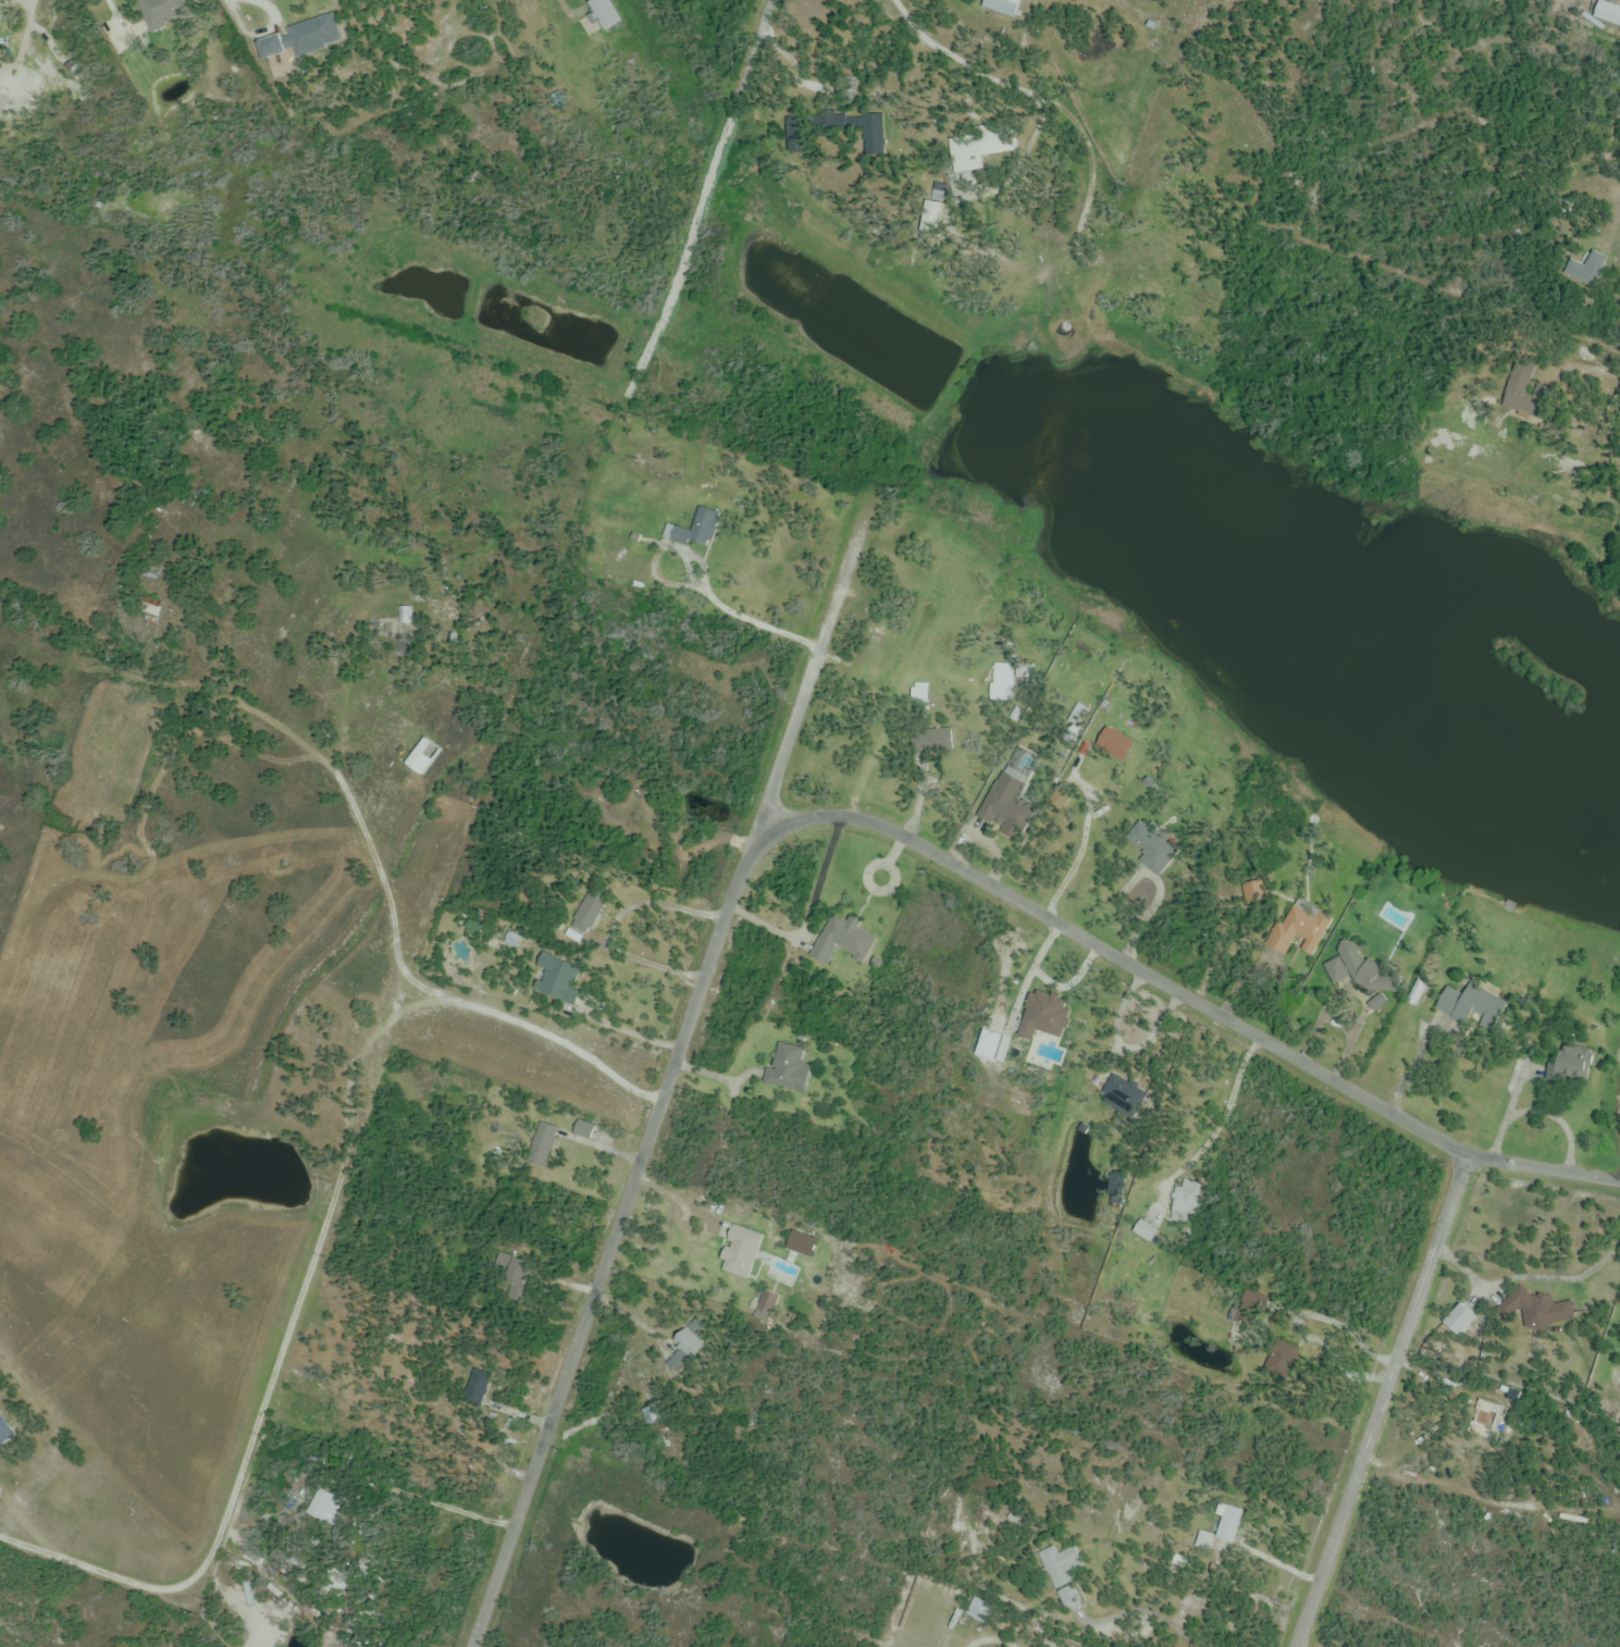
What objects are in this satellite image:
road: (250, 3)
building: (1002, 7)
building: (161, 13)
building: (603, 13)
road: (772, 21)
building: (298, 40)
building: (994, 141)
building: (1580, 189)
building: (1586, 270)
building: (1520, 384)
building: (698, 531)
building: (150, 573)
building: (442, 612)
building: (931, 742)
building: (1113, 746)
building: (419, 757)
building: (1006, 800)
road: (1079, 847)
building: (1152, 849)
road: (613, 920)
building: (1298, 930)
building: (514, 940)
building: (843, 941)
building: (1344, 964)
building: (561, 980)
building: (1380, 980)
road: (438, 994)
road: (1188, 998)
building: (1462, 1004)
road: (629, 1031)
building: (1572, 1064)
building: (787, 1067)
road: (670, 1078)
building: (1118, 1088)
road: (1617, 1114)
road: (1220, 1119)
building: (583, 1130)
building: (542, 1150)
building: (1183, 1200)
road: (678, 1202)
building: (1149, 1223)
road: (1531, 1272)
building: (514, 1274)
building: (1538, 1310)
building: (690, 1339)
building: (478, 1387)
road: (1383, 1400)
building: (652, 1415)
building: (1487, 1421)
building: (3, 1429)
building: (325, 1507)
building: (1220, 1533)
road: (1145, 1609)
road: (990, 1640)

